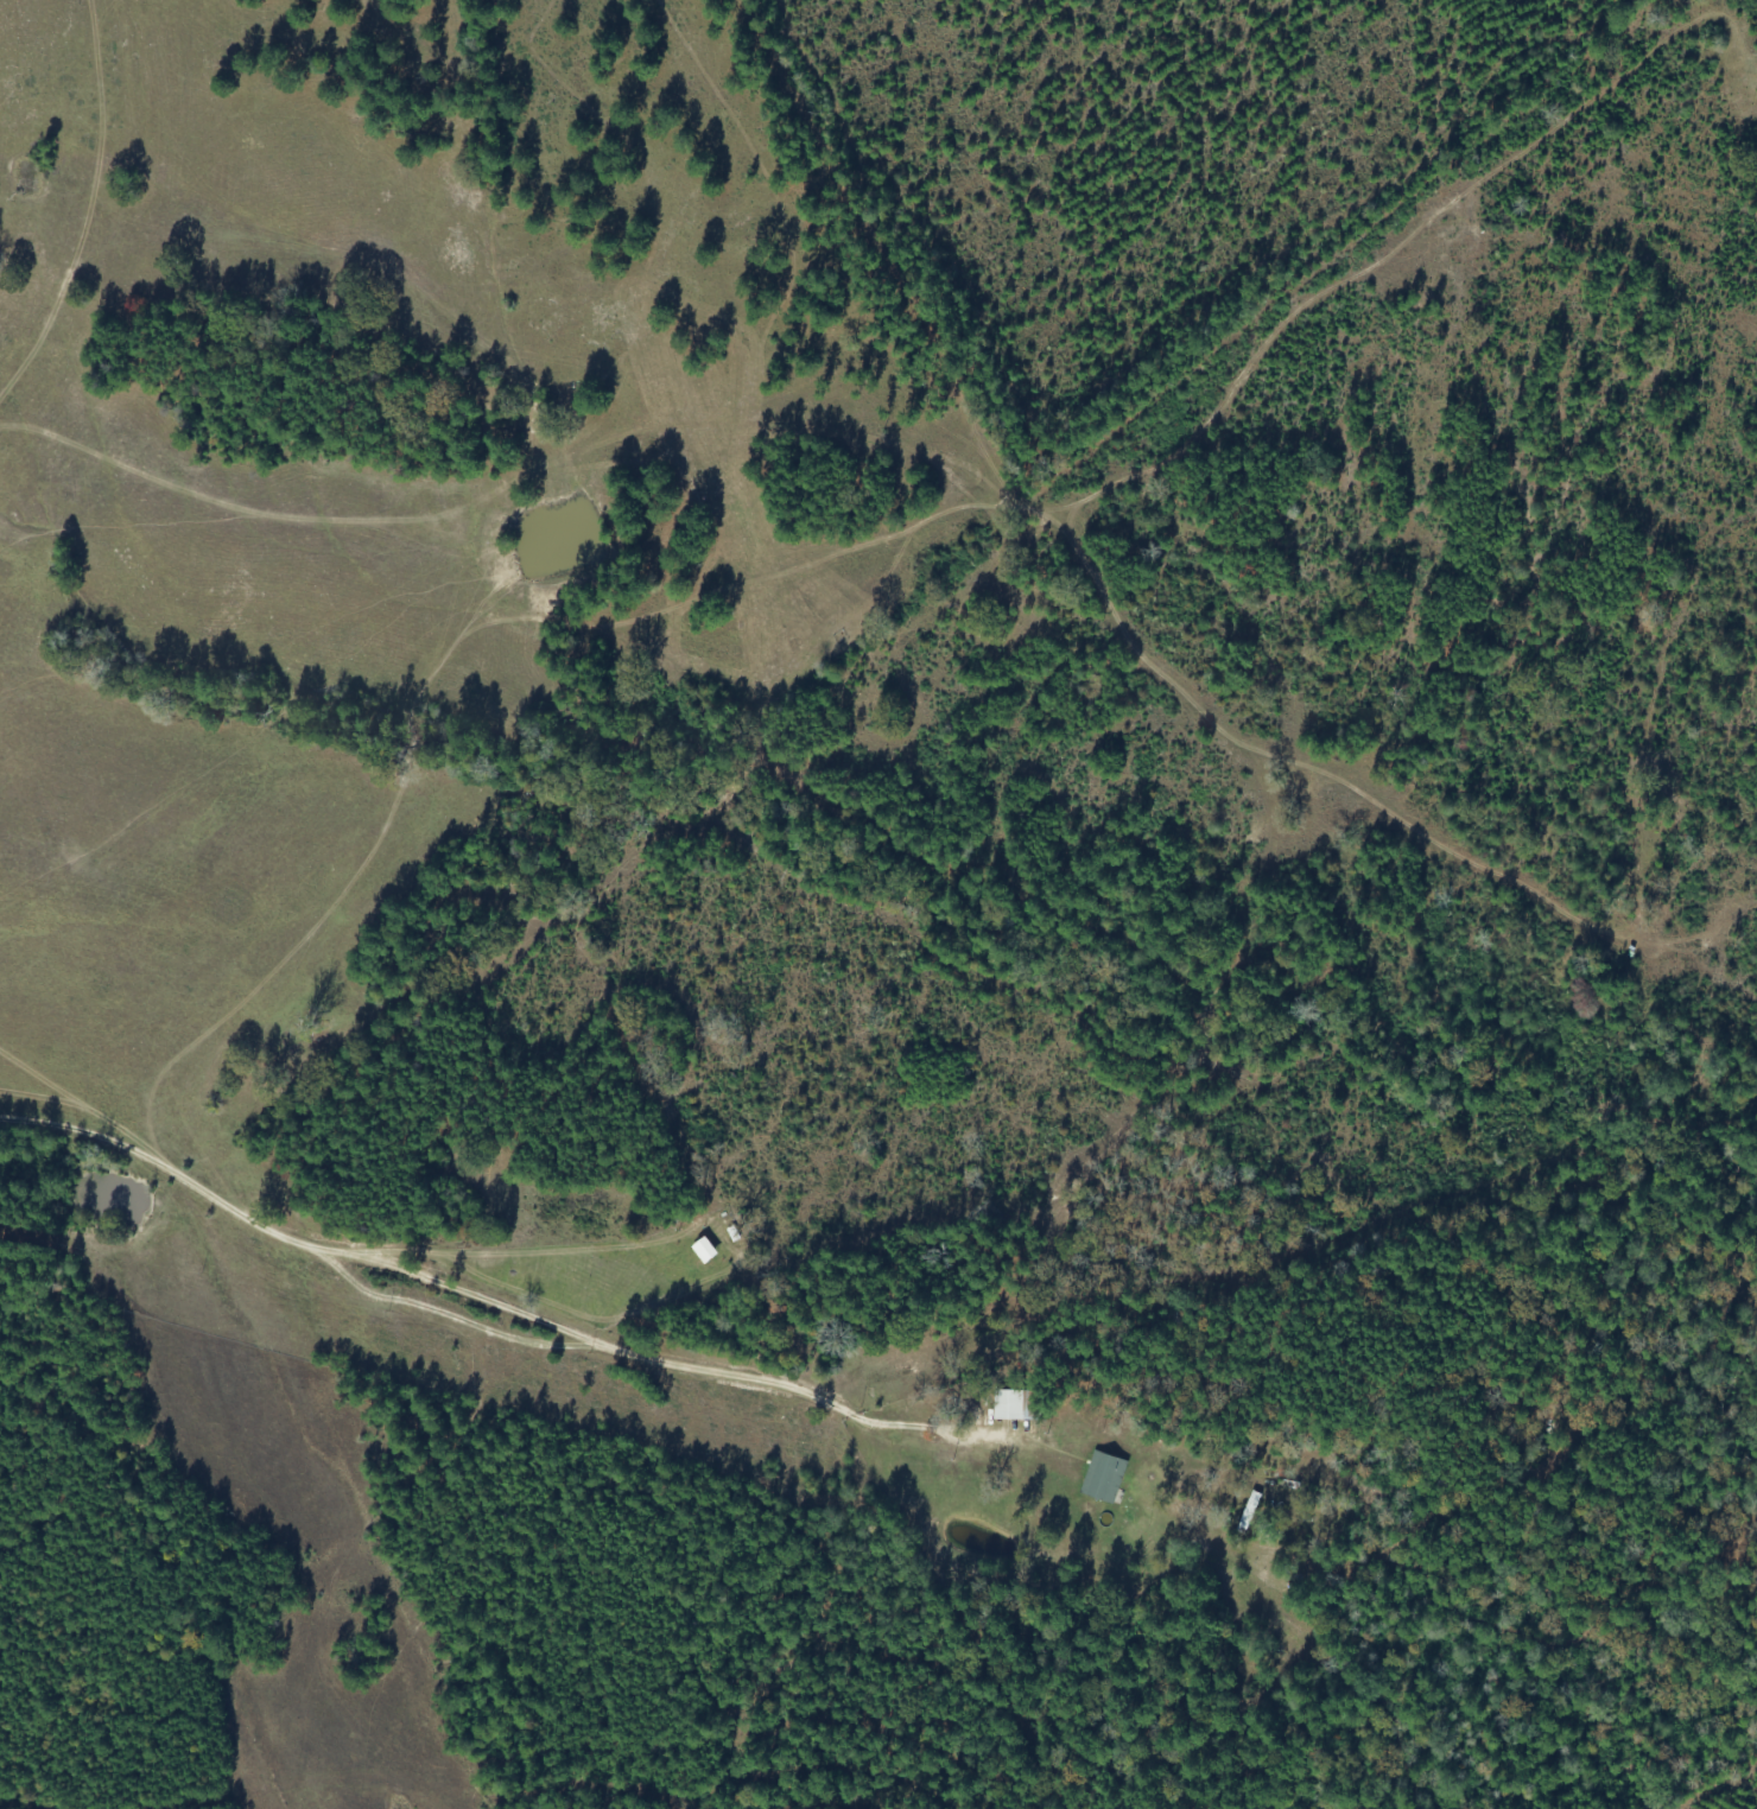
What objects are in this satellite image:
road: (573, 832)
road: (84, 1218)
road: (716, 1375)
building: (1016, 1404)
building: (1104, 1477)

